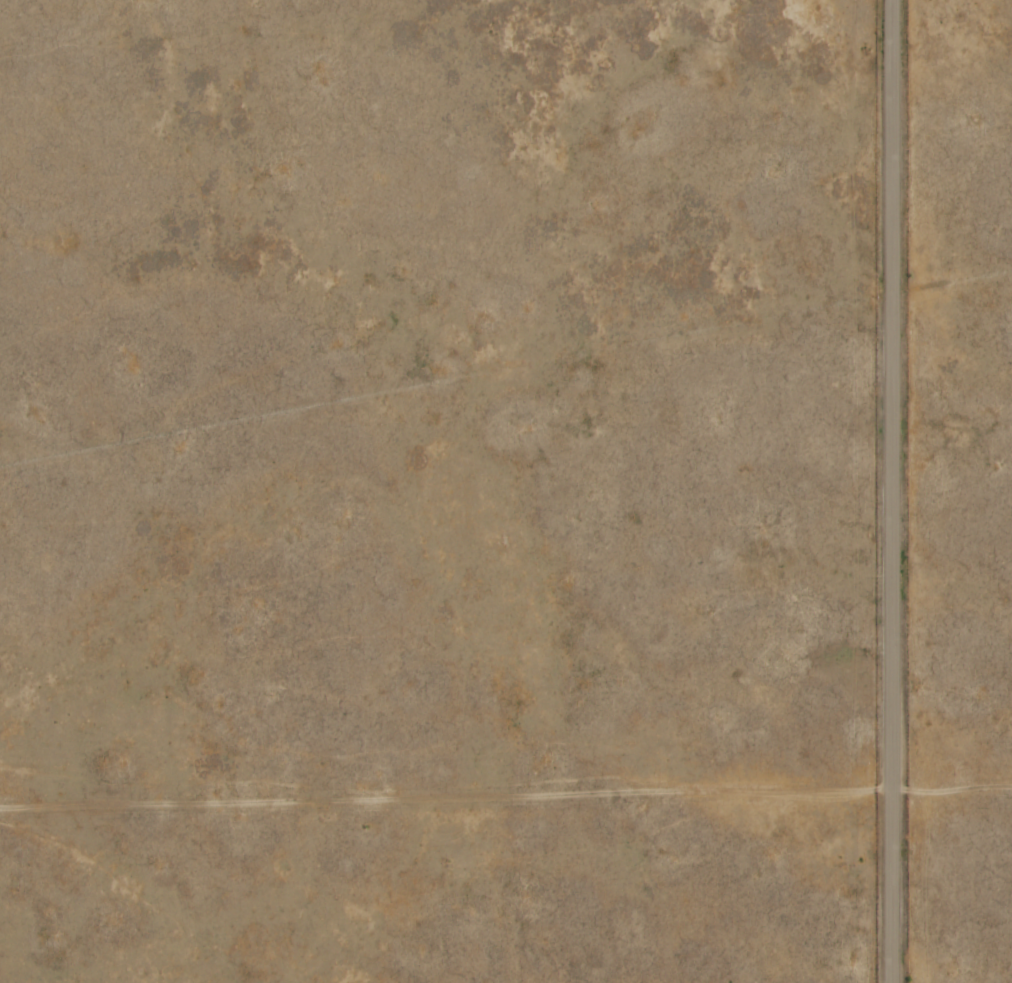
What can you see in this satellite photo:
road: (887, 491)

